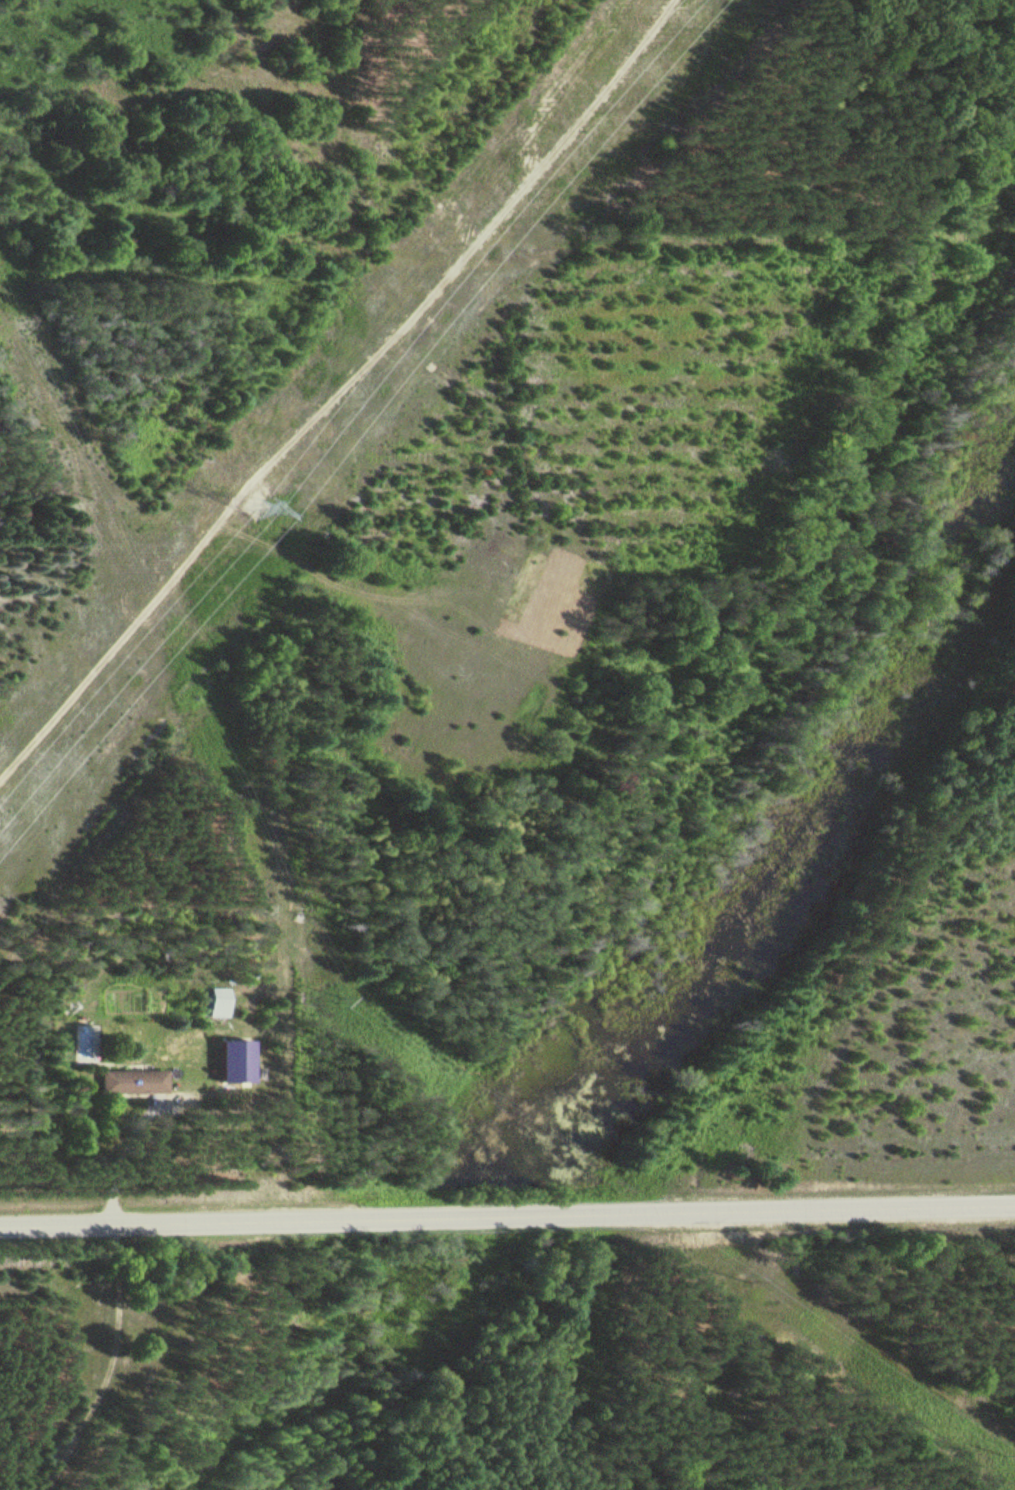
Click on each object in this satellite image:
road: (338, 390)
power tower: (249, 510)
building: (217, 1001)
building: (234, 1059)
building: (131, 1080)
road: (126, 1159)
road: (507, 1217)

